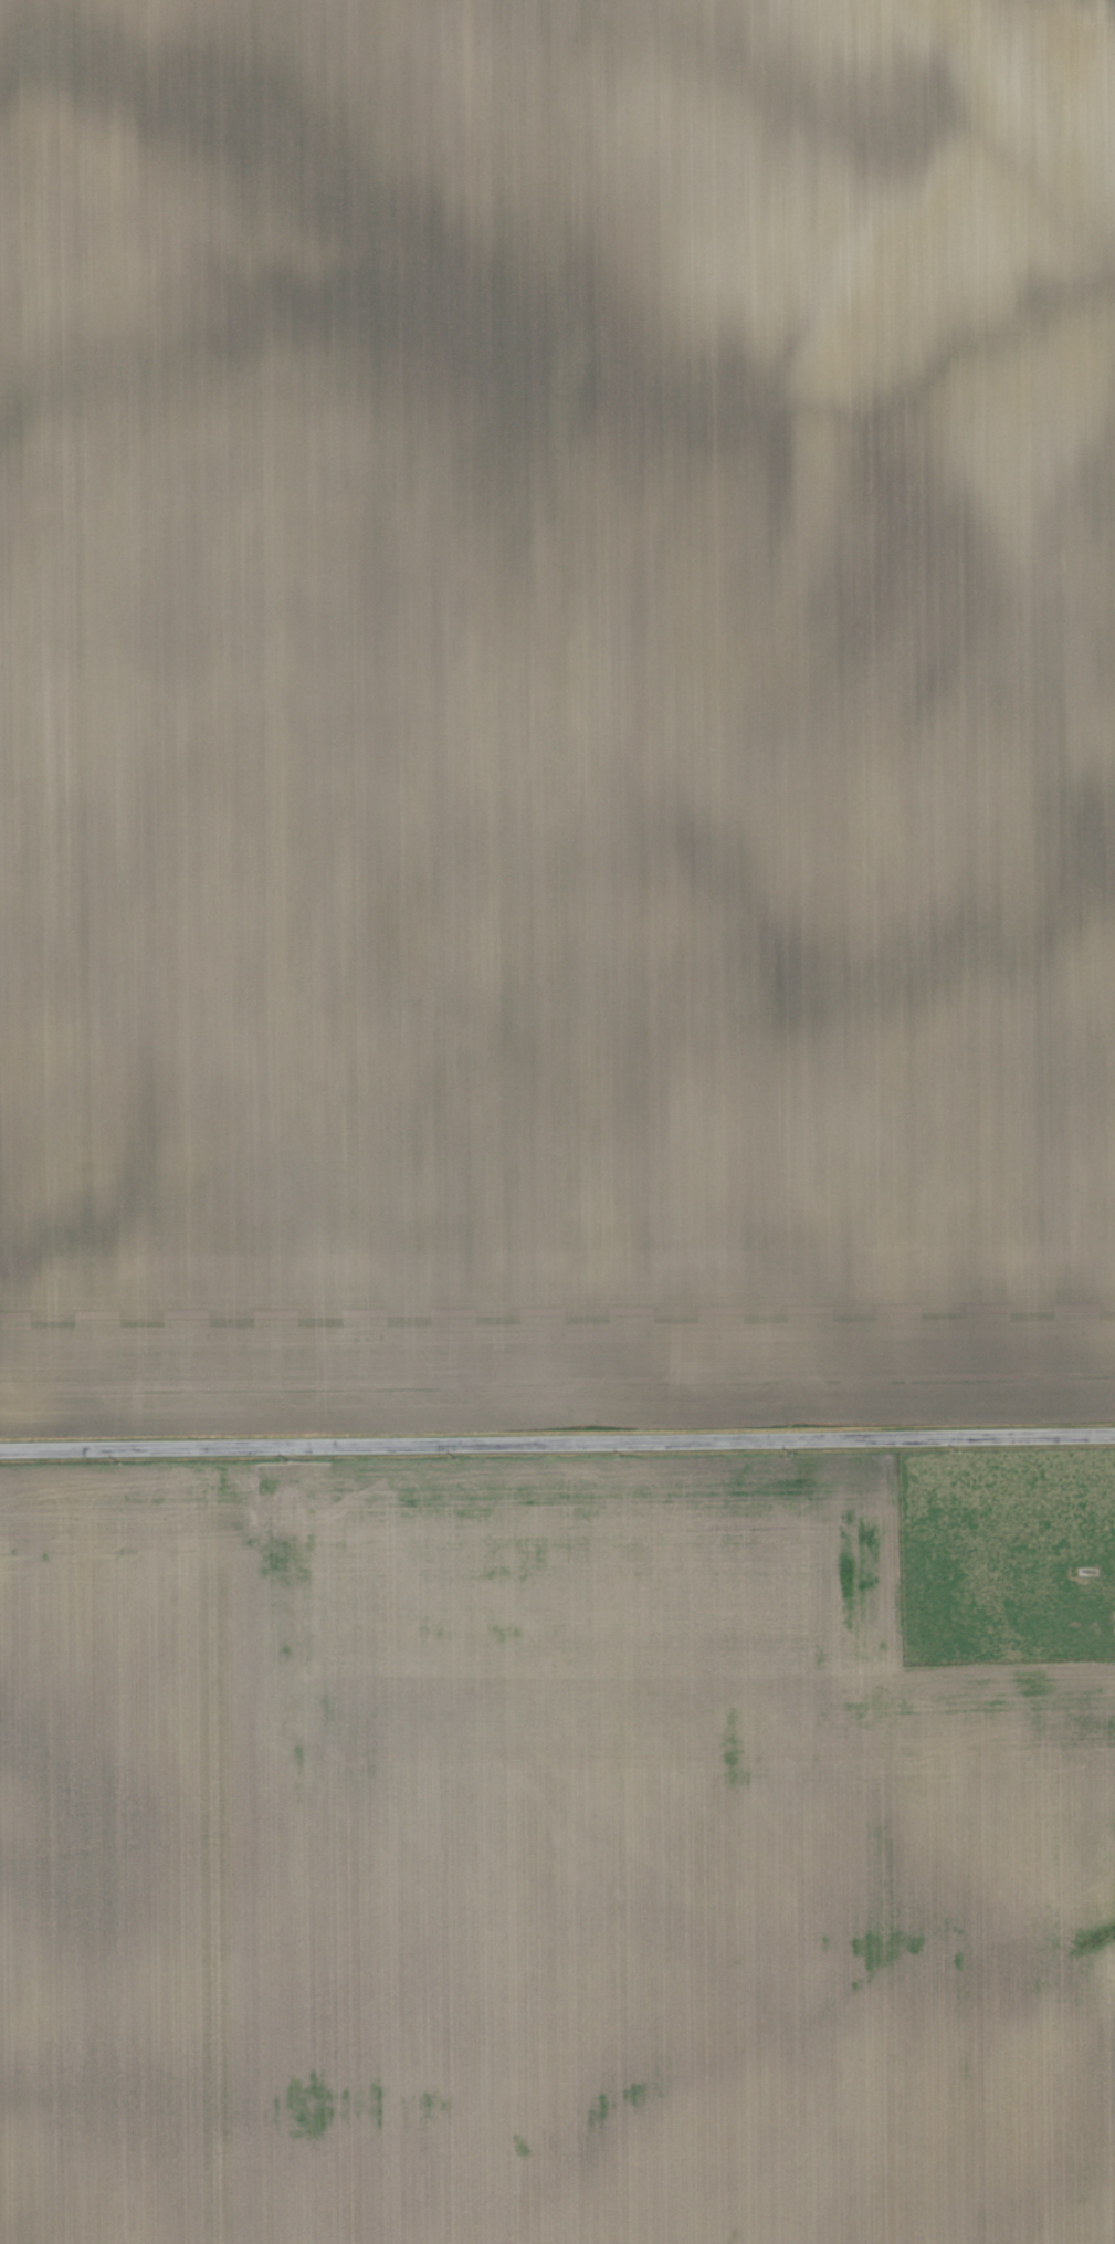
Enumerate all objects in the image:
road: (557, 1441)

